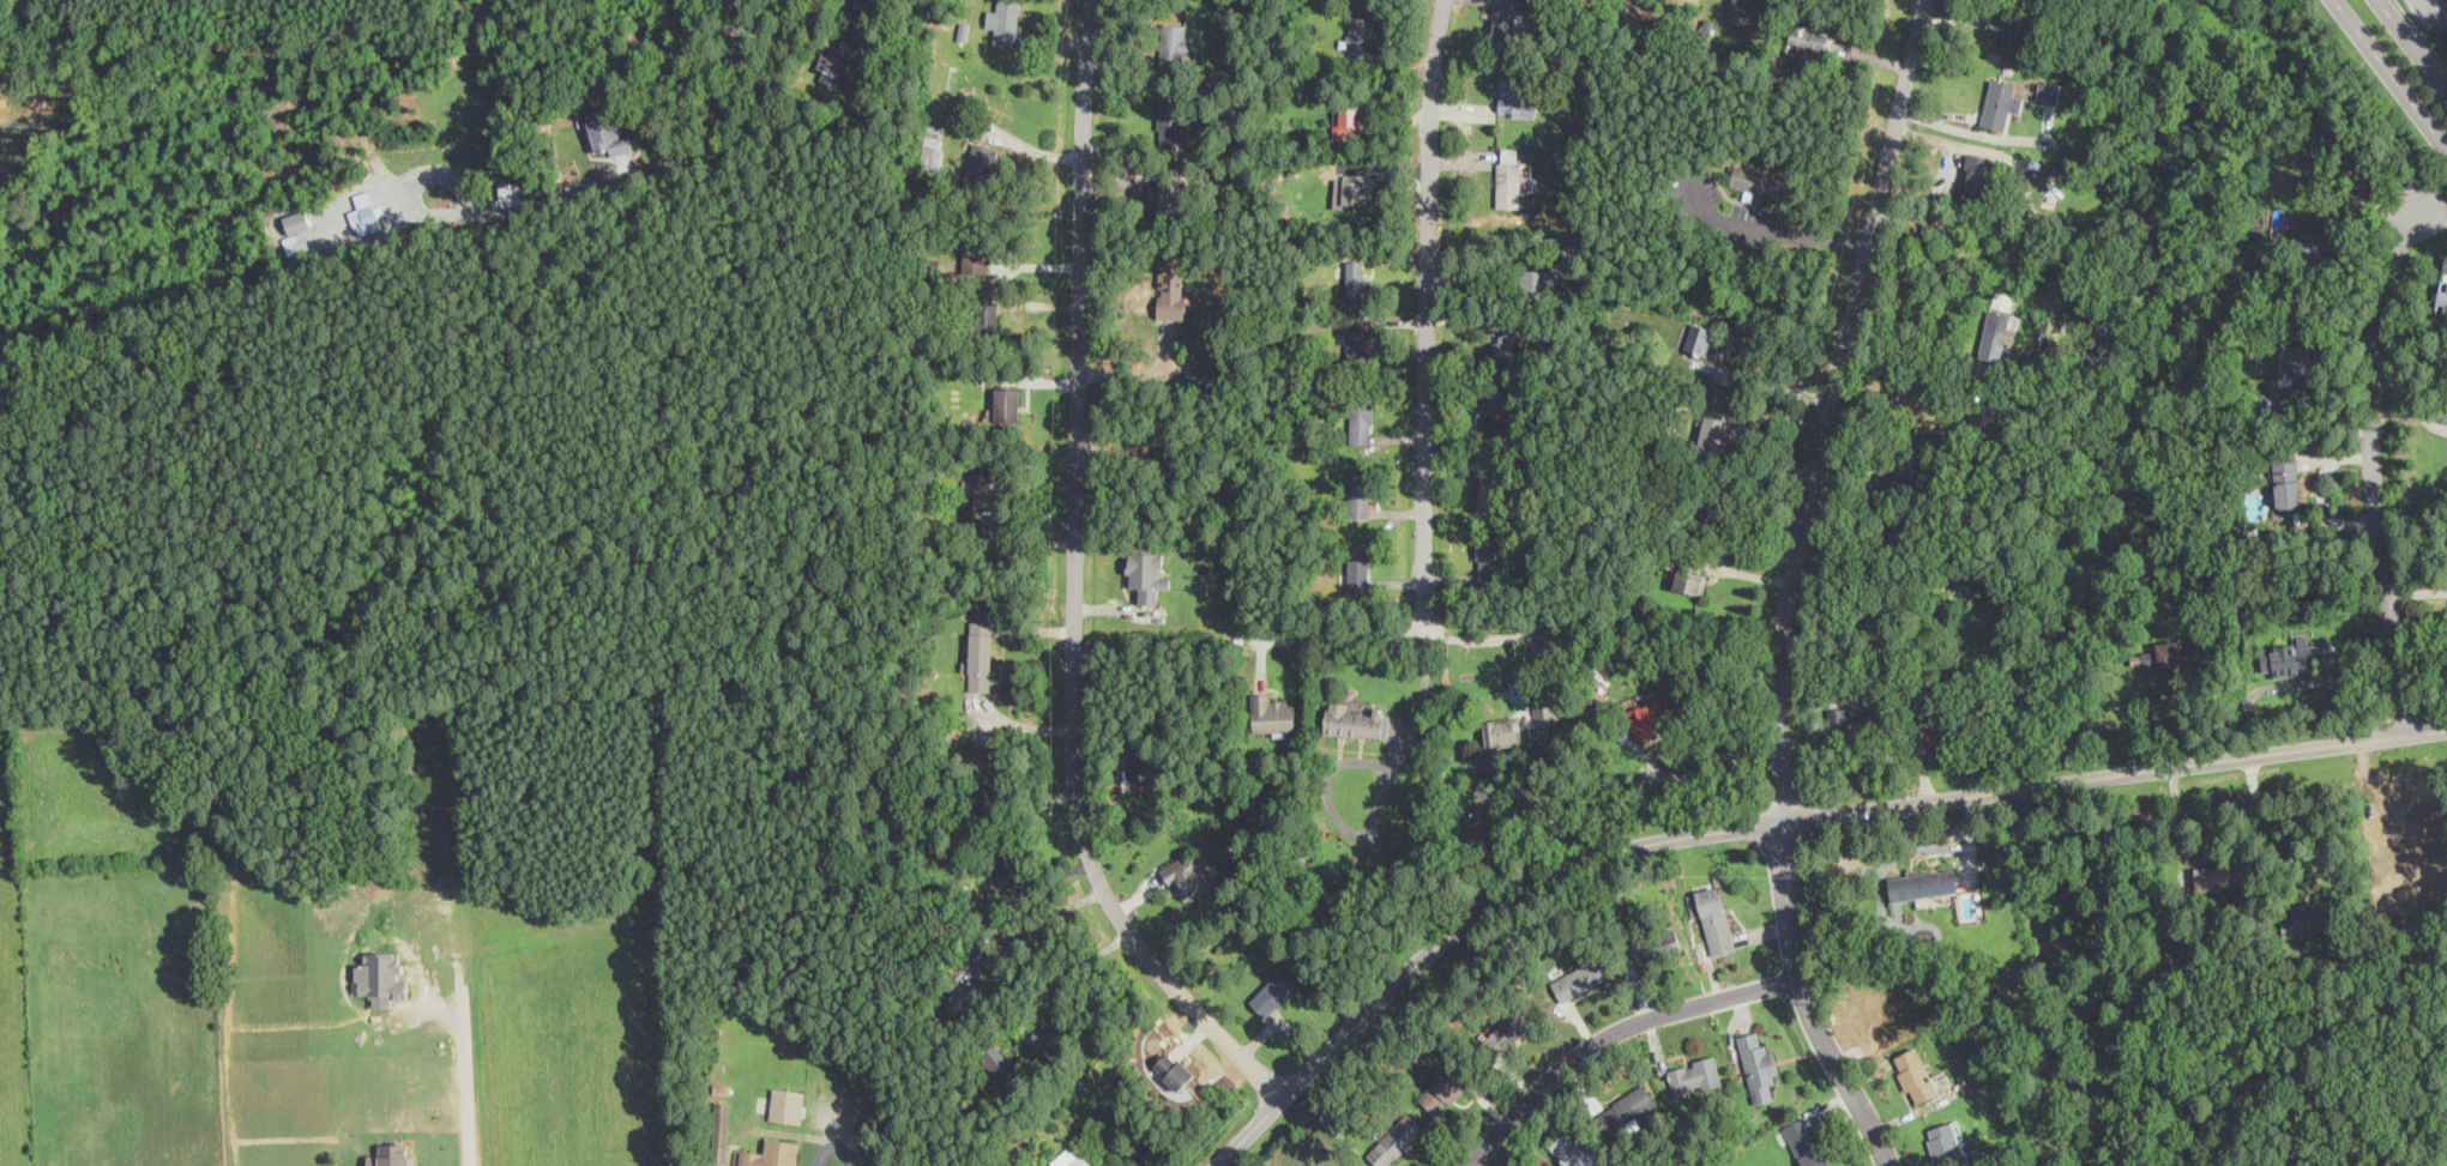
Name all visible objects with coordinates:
building: (1752, 6)
building: (1508, 16)
building: (929, 17)
road: (795, 20)
building: (1005, 22)
building: (1361, 32)
road: (2421, 32)
building: (1810, 34)
building: (2014, 37)
road: (2413, 44)
building: (1176, 48)
building: (840, 61)
road: (2392, 72)
building: (2048, 92)
building: (1515, 95)
building: (2001, 103)
building: (1350, 116)
building: (1170, 121)
building: (604, 131)
road: (1971, 132)
road: (1021, 143)
building: (933, 152)
building: (982, 157)
road: (664, 165)
building: (2055, 168)
building: (1508, 173)
building: (1976, 176)
building: (1756, 181)
road: (410, 182)
building: (1350, 192)
building: (507, 198)
building: (1170, 200)
building: (366, 212)
road: (1776, 231)
building: (2307, 250)
building: (975, 255)
building: (1513, 270)
building: (1356, 277)
building: (1171, 288)
building: (2442, 291)
building: (990, 315)
road: (1427, 315)
building: (2097, 321)
building: (1996, 333)
building: (1507, 338)
building: (1699, 338)
building: (1357, 344)
building: (1213, 364)
building: (2291, 369)
road: (1765, 382)
road: (1894, 382)
building: (1007, 405)
building: (1495, 405)
road: (1827, 407)
building: (1979, 417)
building: (1360, 428)
building: (1713, 429)
road: (2376, 465)
building: (1907, 470)
building: (2285, 479)
building: (1489, 488)
building: (987, 490)
building: (1360, 494)
building: (1708, 516)
building: (1905, 538)
building: (1488, 557)
building: (1360, 566)
building: (1146, 574)
building: (1690, 576)
road: (1075, 584)
road: (1330, 635)
building: (980, 654)
building: (2289, 657)
building: (2160, 659)
building: (1935, 712)
building: (1272, 713)
building: (1545, 713)
building: (1647, 718)
building: (1851, 718)
building: (1355, 720)
building: (1502, 731)
road: (1708, 762)
building: (1157, 773)
road: (1774, 822)
building: (2416, 841)
road: (2306, 854)
building: (1006, 858)
building: (1188, 877)
building: (2220, 877)
building: (1922, 883)
building: (2310, 917)
building: (1714, 919)
building: (1661, 947)
building: (1579, 978)
building: (1277, 989)
building: (965, 996)
road: (1807, 1002)
road: (1031, 1004)
building: (1509, 1029)
road: (1609, 1034)
building: (1758, 1067)
building: (1173, 1070)
building: (1916, 1074)
building: (1694, 1075)
road: (465, 1076)
building: (1442, 1089)
building: (786, 1104)
building: (1629, 1105)
building: (721, 1131)
building: (1394, 1140)
building: (1941, 1141)
building: (1806, 1142)
building: (1572, 1150)
building: (772, 1154)
building: (1071, 1158)
road: (1484, 1159)

